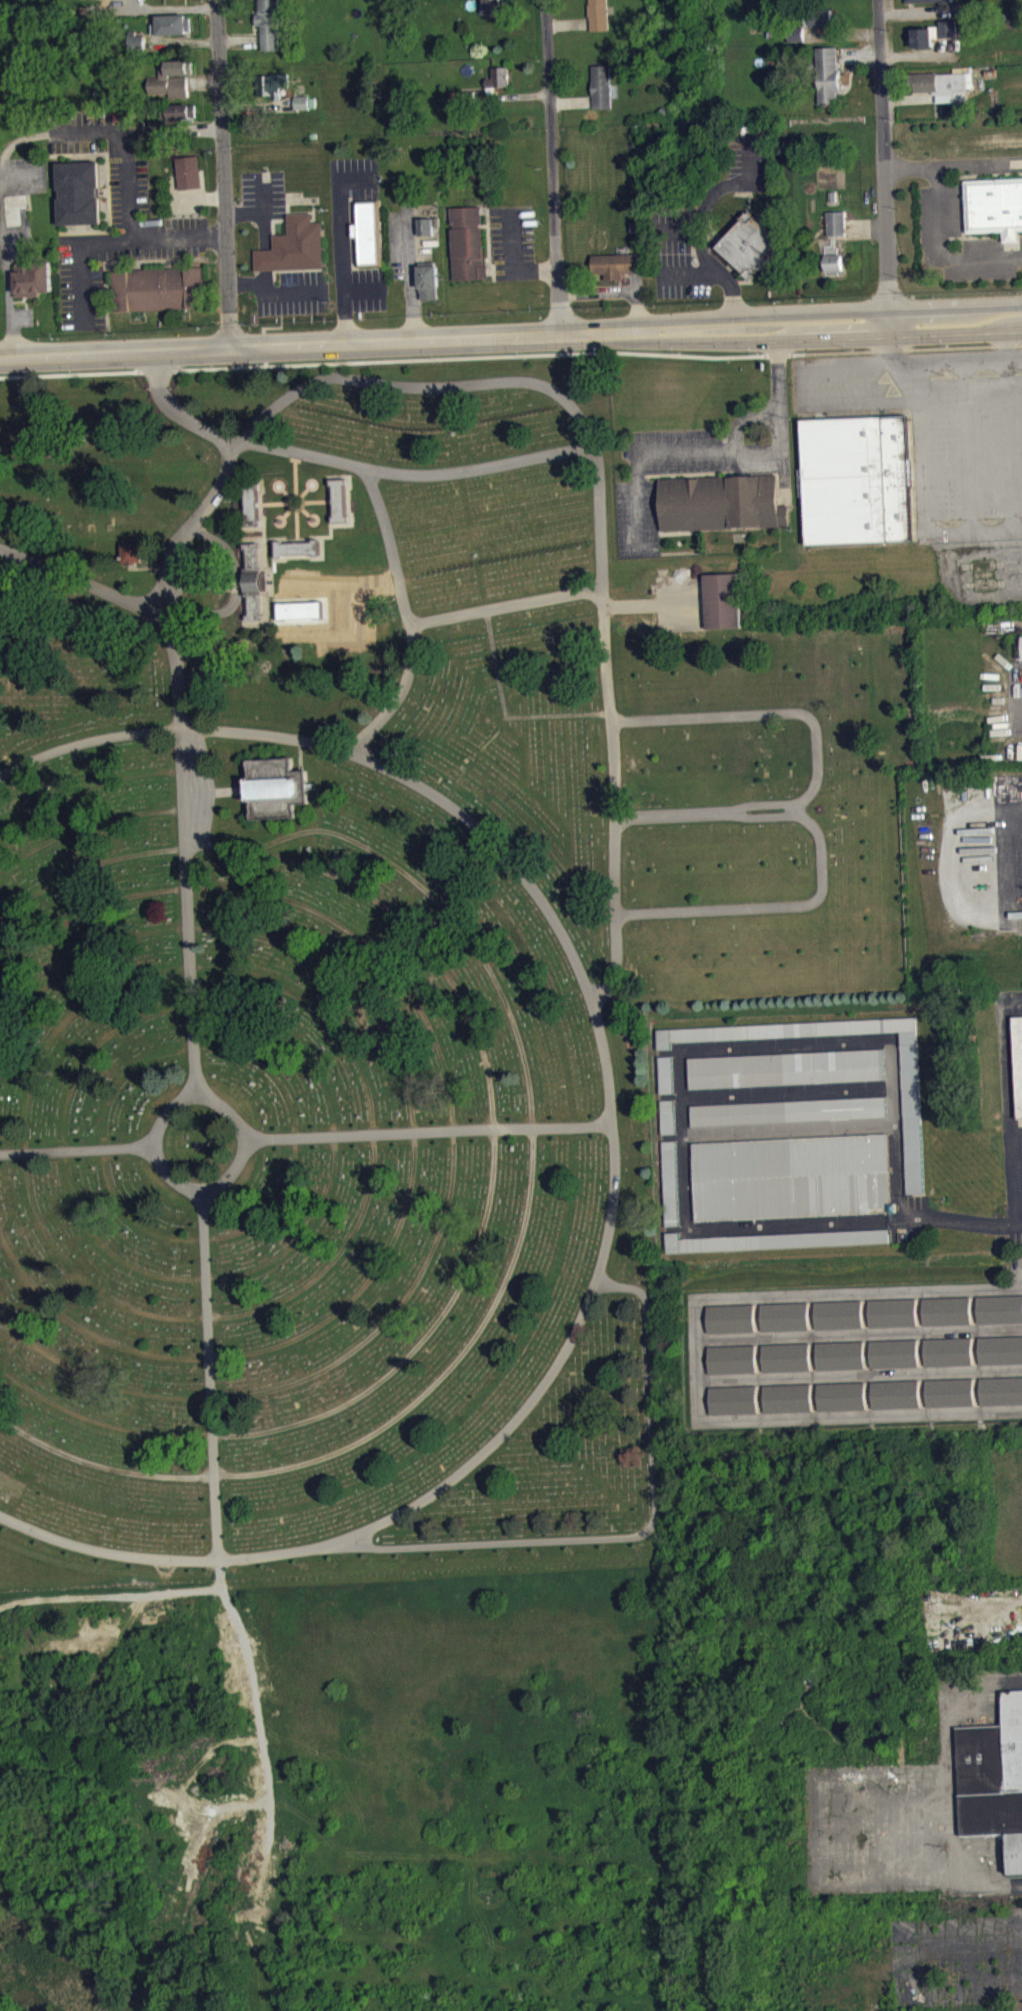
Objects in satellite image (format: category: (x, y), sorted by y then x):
building: (918, 0)
building: (124, 1)
road: (137, 3)
road: (153, 6)
building: (494, 7)
building: (961, 7)
road: (915, 10)
building: (598, 14)
building: (820, 17)
building: (269, 22)
road: (569, 22)
building: (174, 24)
building: (820, 26)
road: (841, 33)
building: (932, 33)
building: (796, 34)
road: (240, 38)
building: (136, 40)
road: (181, 41)
road: (918, 53)
road: (857, 55)
building: (176, 68)
building: (828, 75)
building: (498, 76)
road: (203, 81)
building: (944, 83)
building: (272, 84)
building: (170, 85)
building: (601, 85)
building: (453, 95)
building: (466, 95)
road: (512, 95)
road: (905, 98)
building: (301, 101)
road: (572, 101)
road: (257, 105)
building: (306, 109)
building: (179, 111)
building: (183, 120)
road: (193, 126)
building: (157, 128)
road: (126, 147)
parking lot: (750, 152)
road: (553, 165)
road: (883, 167)
building: (189, 171)
road: (223, 172)
parking lot: (354, 176)
road: (719, 191)
building: (79, 192)
parking lot: (262, 194)
building: (832, 195)
building: (995, 206)
building: (14, 207)
road: (262, 210)
building: (836, 222)
road: (940, 224)
road: (865, 225)
building: (425, 226)
road: (2, 229)
road: (264, 230)
building: (368, 232)
parking lot: (958, 239)
road: (107, 240)
parking lot: (512, 240)
parking lot: (402, 242)
building: (468, 242)
parking lot: (120, 243)
road: (342, 243)
building: (749, 244)
building: (295, 246)
parking lot: (682, 251)
road: (512, 261)
building: (833, 262)
building: (617, 264)
road: (711, 273)
road: (409, 275)
building: (33, 278)
building: (428, 280)
building: (159, 288)
parking lot: (360, 289)
road: (362, 289)
parking lot: (290, 292)
road: (271, 293)
road: (790, 312)
road: (790, 339)
road: (280, 343)
road: (511, 354)
road: (834, 363)
road: (486, 383)
parking lot: (940, 428)
road: (1006, 429)
road: (918, 431)
road: (235, 445)
road: (966, 445)
road: (472, 471)
road: (296, 475)
building: (858, 479)
building: (721, 502)
building: (339, 503)
road: (318, 504)
road: (348, 504)
road: (275, 505)
building: (251, 506)
road: (302, 509)
road: (298, 527)
road: (242, 530)
road: (973, 531)
road: (332, 538)
road: (264, 539)
building: (297, 550)
building: (131, 553)
road: (298, 557)
road: (11, 584)
road: (86, 585)
road: (237, 588)
building: (257, 589)
building: (722, 599)
road: (507, 608)
building: (1021, 644)
road: (178, 694)
road: (505, 717)
road: (817, 756)
building: (274, 785)
road: (87, 788)
road: (86, 828)
road: (1014, 866)
road: (770, 907)
park: (376, 961)
building: (1018, 1056)
building: (784, 1067)
building: (664, 1073)
building: (787, 1110)
building: (666, 1115)
building: (911, 1120)
road: (430, 1133)
road: (495, 1144)
road: (415, 1145)
road: (455, 1145)
road: (615, 1146)
road: (77, 1151)
building: (790, 1176)
building: (669, 1182)
road: (1018, 1182)
road: (205, 1194)
road: (204, 1238)
building: (773, 1239)
building: (775, 1248)
road: (511, 1270)
road: (206, 1279)
building: (999, 1307)
building: (945, 1309)
building: (892, 1311)
building: (838, 1313)
building: (784, 1315)
building: (729, 1317)
road: (208, 1318)
building: (999, 1348)
building: (947, 1350)
building: (893, 1351)
building: (839, 1353)
building: (786, 1355)
building: (731, 1357)
road: (210, 1377)
building: (1000, 1389)
building: (948, 1391)
building: (894, 1392)
building: (841, 1394)
building: (787, 1396)
building: (733, 1398)
road: (370, 1538)
road: (623, 1539)
building: (993, 1778)
road: (921, 1788)

